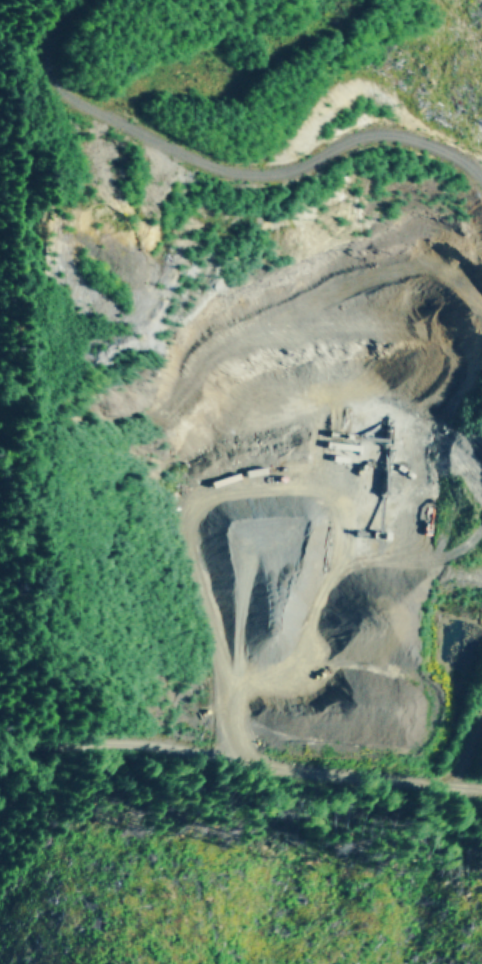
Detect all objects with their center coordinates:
road: (220, 163)
quarry: (251, 392)
road: (29, 742)
road: (467, 749)
road: (256, 753)
road: (29, 781)
road: (467, 781)

